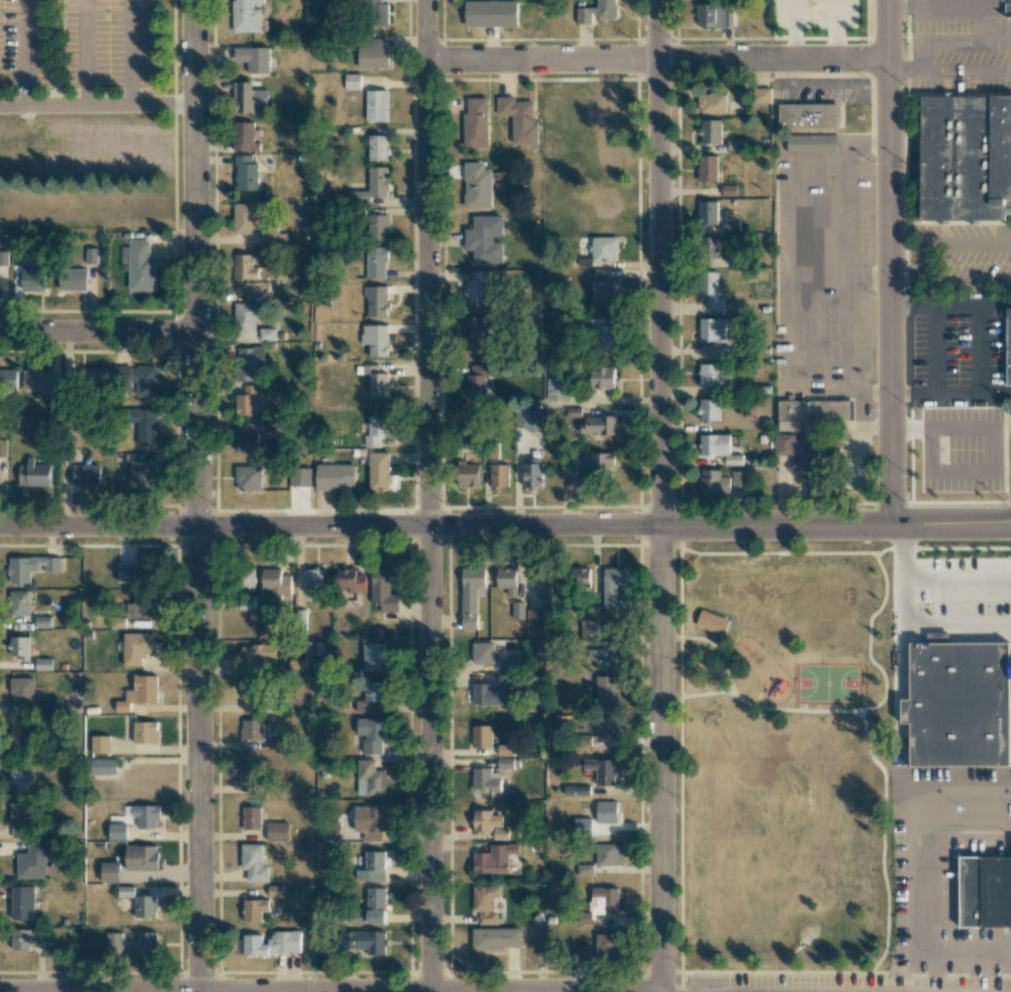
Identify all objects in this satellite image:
road: (940, 8)
building: (1007, 9)
building: (377, 12)
building: (597, 12)
building: (491, 14)
building: (247, 15)
building: (713, 15)
road: (985, 25)
road: (794, 29)
road: (834, 29)
parking lot: (107, 42)
road: (967, 43)
parking lot: (24, 44)
road: (25, 52)
road: (84, 52)
road: (131, 52)
building: (372, 54)
building: (254, 59)
road: (655, 59)
road: (917, 70)
road: (966, 70)
building: (352, 81)
building: (761, 96)
building: (247, 97)
building: (712, 103)
road: (98, 104)
building: (376, 105)
building: (810, 116)
building: (519, 119)
building: (476, 123)
building: (710, 131)
building: (245, 137)
road: (867, 141)
building: (814, 144)
building: (736, 145)
building: (377, 148)
building: (967, 156)
building: (707, 168)
building: (246, 173)
building: (372, 186)
building: (477, 186)
building: (728, 190)
building: (707, 212)
building: (243, 219)
building: (731, 226)
building: (377, 227)
building: (485, 239)
building: (273, 240)
road: (949, 243)
building: (710, 247)
building: (603, 248)
building: (90, 255)
road: (197, 262)
building: (376, 262)
road: (426, 262)
road: (889, 262)
building: (141, 266)
building: (244, 267)
road: (847, 267)
road: (798, 274)
road: (868, 279)
road: (907, 279)
road: (967, 279)
building: (32, 280)
building: (72, 280)
building: (476, 287)
building: (603, 287)
building: (256, 289)
building: (711, 291)
building: (376, 300)
road: (972, 303)
road: (912, 304)
building: (247, 316)
building: (267, 334)
road: (98, 335)
building: (480, 336)
building: (714, 336)
building: (605, 337)
building: (375, 340)
building: (1008, 344)
road: (935, 348)
building: (251, 364)
road: (982, 371)
building: (96, 377)
building: (714, 377)
building: (138, 378)
building: (602, 378)
building: (8, 379)
building: (37, 380)
building: (376, 381)
building: (477, 381)
building: (557, 390)
road: (997, 392)
road: (868, 393)
road: (913, 393)
building: (251, 402)
building: (56, 405)
building: (708, 409)
building: (813, 410)
building: (574, 412)
building: (529, 420)
building: (598, 425)
building: (145, 427)
road: (911, 428)
building: (376, 429)
building: (247, 442)
building: (2, 448)
building: (719, 448)
building: (801, 453)
building: (601, 464)
building: (569, 466)
building: (379, 470)
road: (990, 470)
building: (140, 472)
building: (531, 472)
building: (33, 474)
building: (86, 475)
building: (467, 475)
building: (499, 475)
building: (299, 477)
building: (334, 477)
building: (248, 478)
building: (738, 479)
building: (714, 482)
building: (738, 493)
road: (659, 496)
road: (505, 524)
building: (30, 568)
building: (138, 569)
building: (249, 578)
building: (580, 579)
building: (507, 580)
building: (312, 581)
building: (349, 582)
building: (276, 583)
building: (541, 583)
building: (612, 585)
building: (383, 589)
building: (470, 596)
building: (624, 600)
building: (245, 602)
building: (18, 603)
building: (145, 606)
building: (518, 610)
building: (535, 617)
building: (43, 622)
building: (711, 622)
building: (590, 629)
building: (19, 647)
building: (136, 647)
building: (482, 653)
building: (603, 655)
building: (258, 656)
building: (372, 657)
building: (43, 664)
building: (504, 681)
park: (826, 682)
building: (251, 688)
building: (22, 690)
building: (139, 693)
building: (606, 694)
building: (489, 695)
building: (371, 697)
building: (957, 705)
building: (252, 729)
building: (145, 732)
building: (19, 735)
building: (371, 735)
building: (482, 736)
building: (100, 744)
building: (505, 750)
park: (776, 757)
road: (197, 758)
road: (430, 758)
building: (505, 763)
building: (103, 767)
building: (602, 771)
building: (250, 774)
building: (20, 775)
building: (369, 778)
building: (486, 779)
building: (606, 812)
building: (146, 816)
building: (251, 818)
building: (21, 820)
building: (485, 821)
building: (369, 822)
building: (582, 827)
building: (331, 831)
building: (117, 832)
building: (277, 832)
building: (609, 855)
building: (141, 858)
building: (494, 859)
building: (36, 860)
building: (253, 864)
building: (373, 867)
building: (584, 869)
building: (110, 872)
building: (274, 890)
building: (986, 892)
building: (604, 900)
building: (22, 902)
building: (485, 903)
building: (375, 905)
building: (145, 906)
building: (254, 909)
building: (357, 917)
building: (586, 918)
building: (20, 939)
building: (496, 939)
building: (365, 942)
building: (114, 943)
building: (147, 943)
building: (273, 944)
building: (606, 947)

